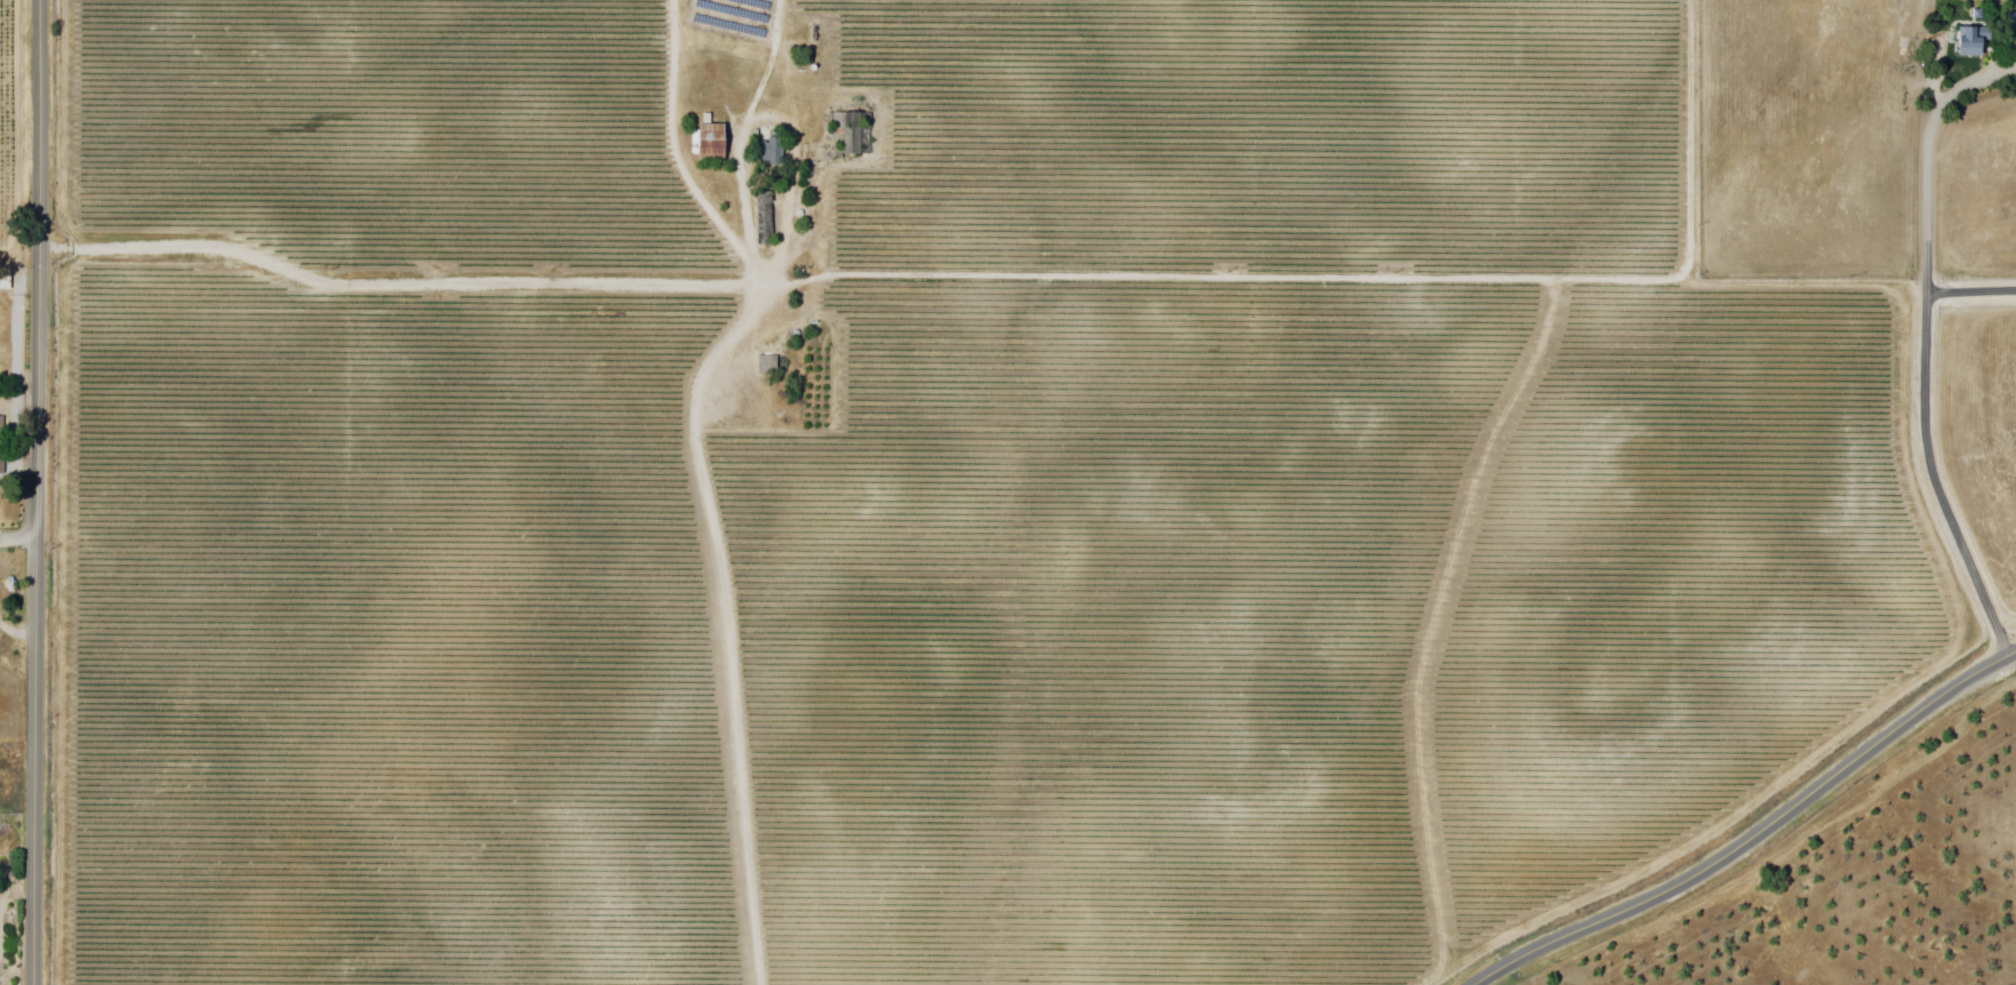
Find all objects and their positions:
building: (1978, 12)
building: (2012, 23)
building: (1969, 41)
building: (852, 132)
building: (715, 142)
building: (771, 152)
building: (766, 219)
building: (7, 281)
road: (758, 286)
road: (1971, 293)
building: (4, 329)
building: (770, 365)
road: (1928, 381)
building: (735, 399)
building: (748, 422)
building: (3, 446)
road: (38, 492)
road: (19, 541)
road: (17, 633)
road: (1753, 833)

